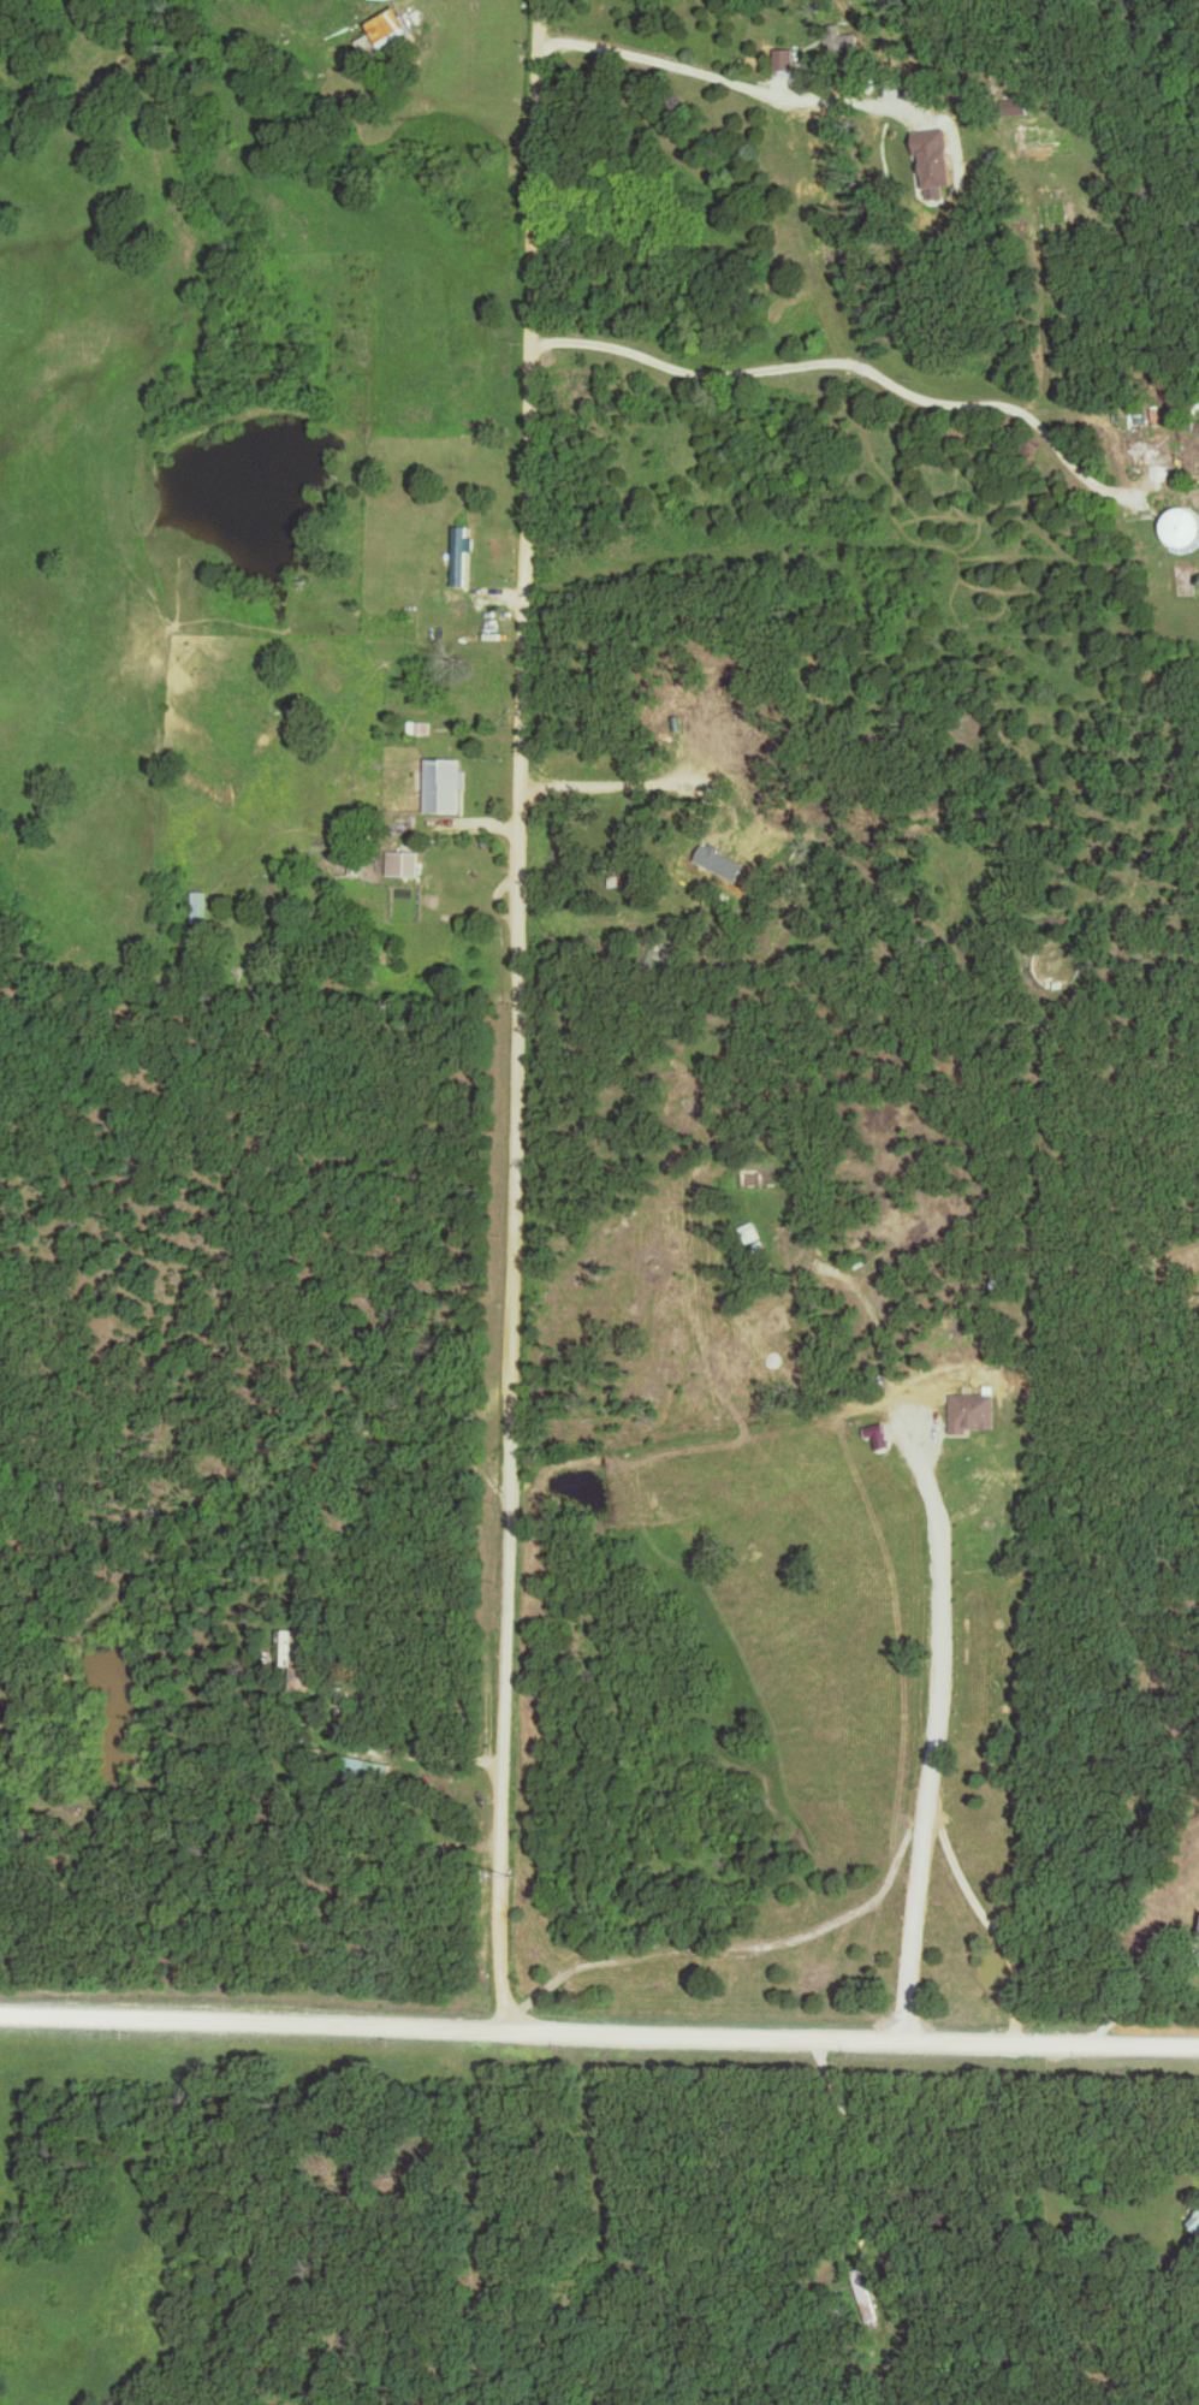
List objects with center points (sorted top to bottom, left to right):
building: (1180, 526)
building: (464, 556)
building: (443, 786)
building: (713, 859)
building: (403, 864)
building: (200, 906)
road: (521, 1017)
building: (780, 1245)
building: (974, 1412)
building: (297, 1659)
building: (366, 1771)
building: (1198, 1932)
road: (599, 2034)

